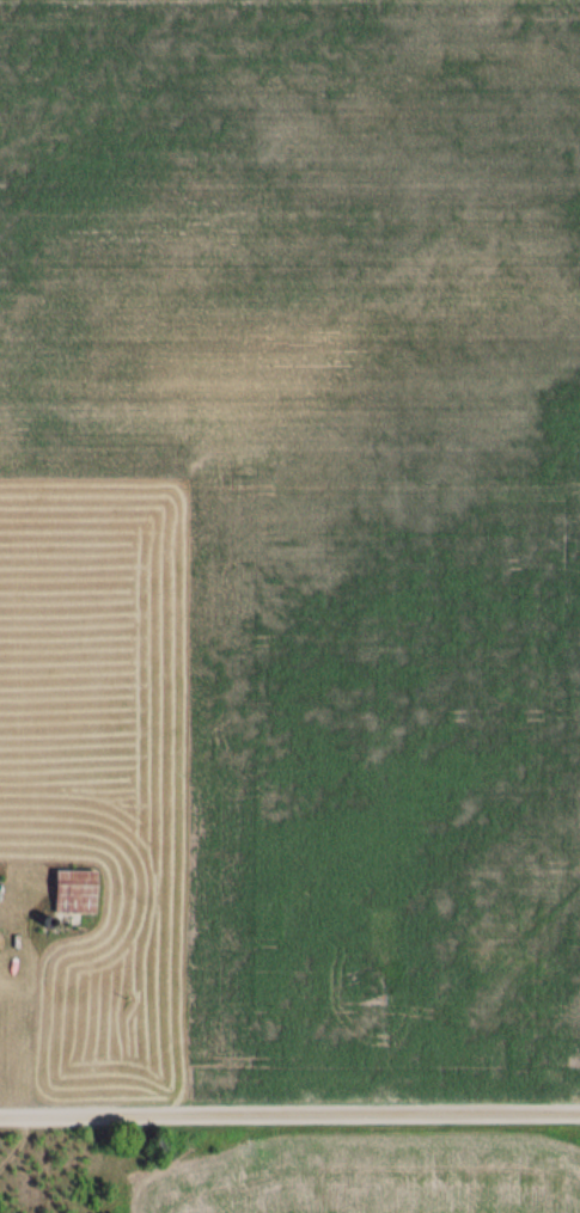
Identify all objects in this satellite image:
building: (73, 893)
road: (289, 1116)

